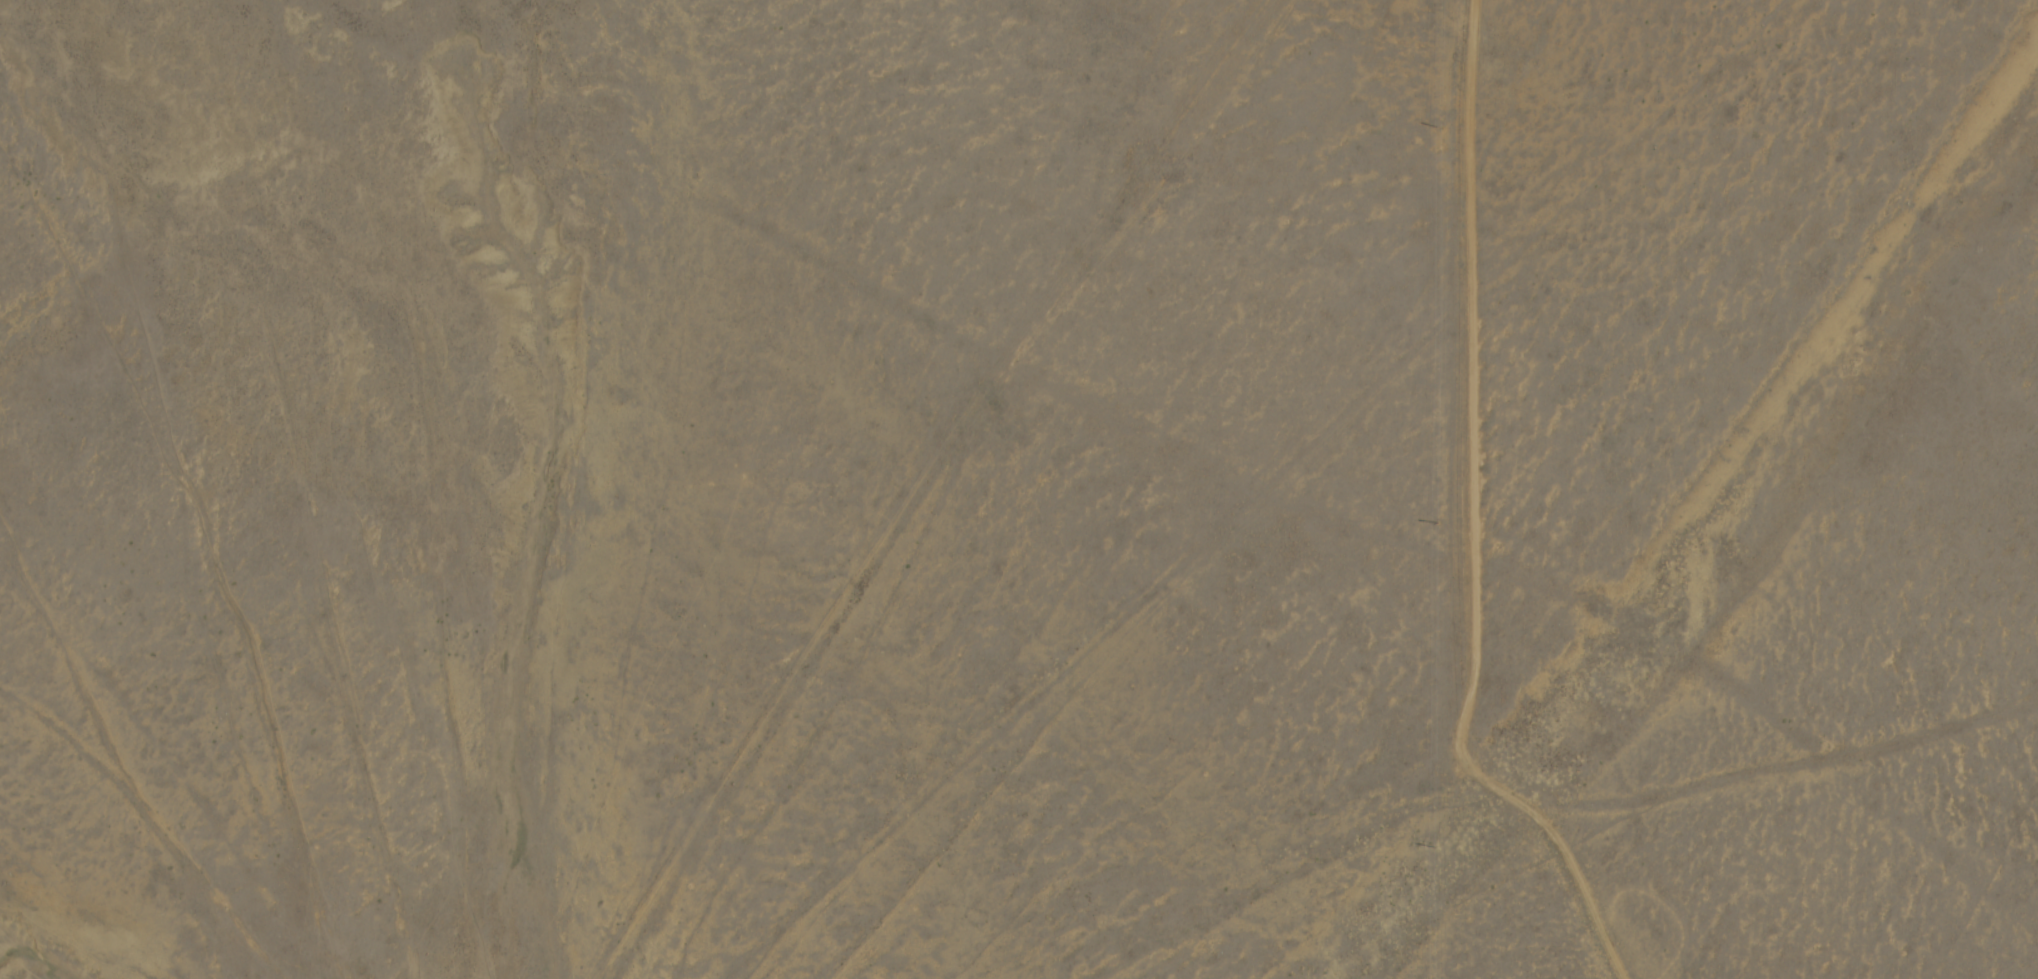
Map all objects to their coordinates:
road: (1425, 510)
road: (1700, 538)

